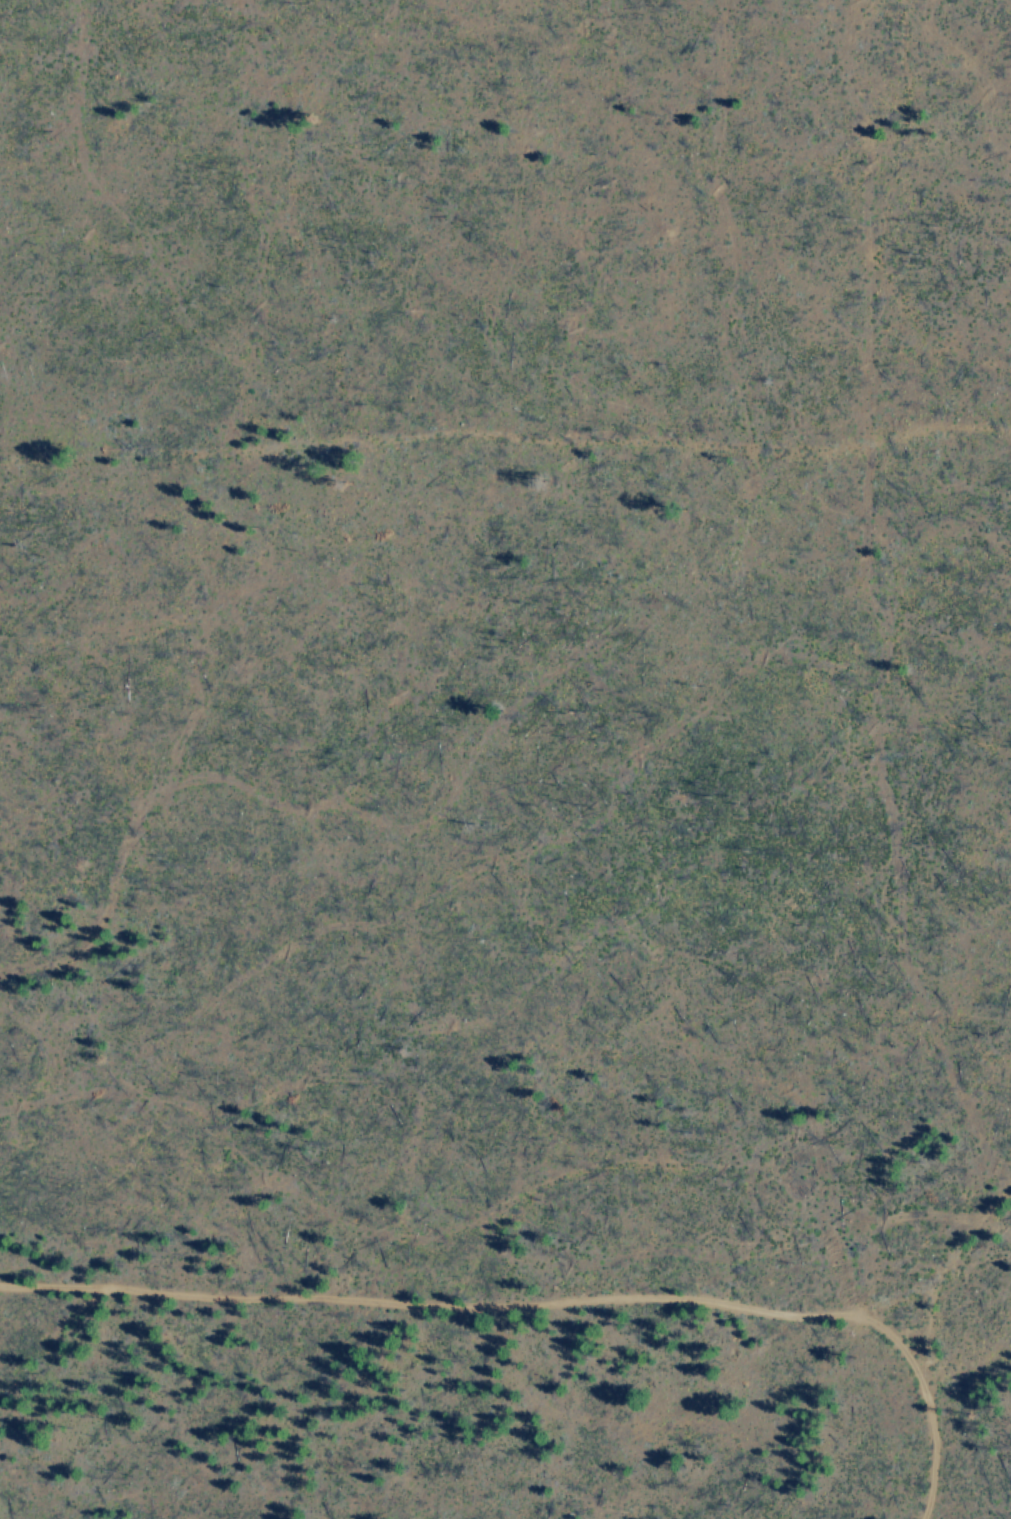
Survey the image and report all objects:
road: (536, 1307)

